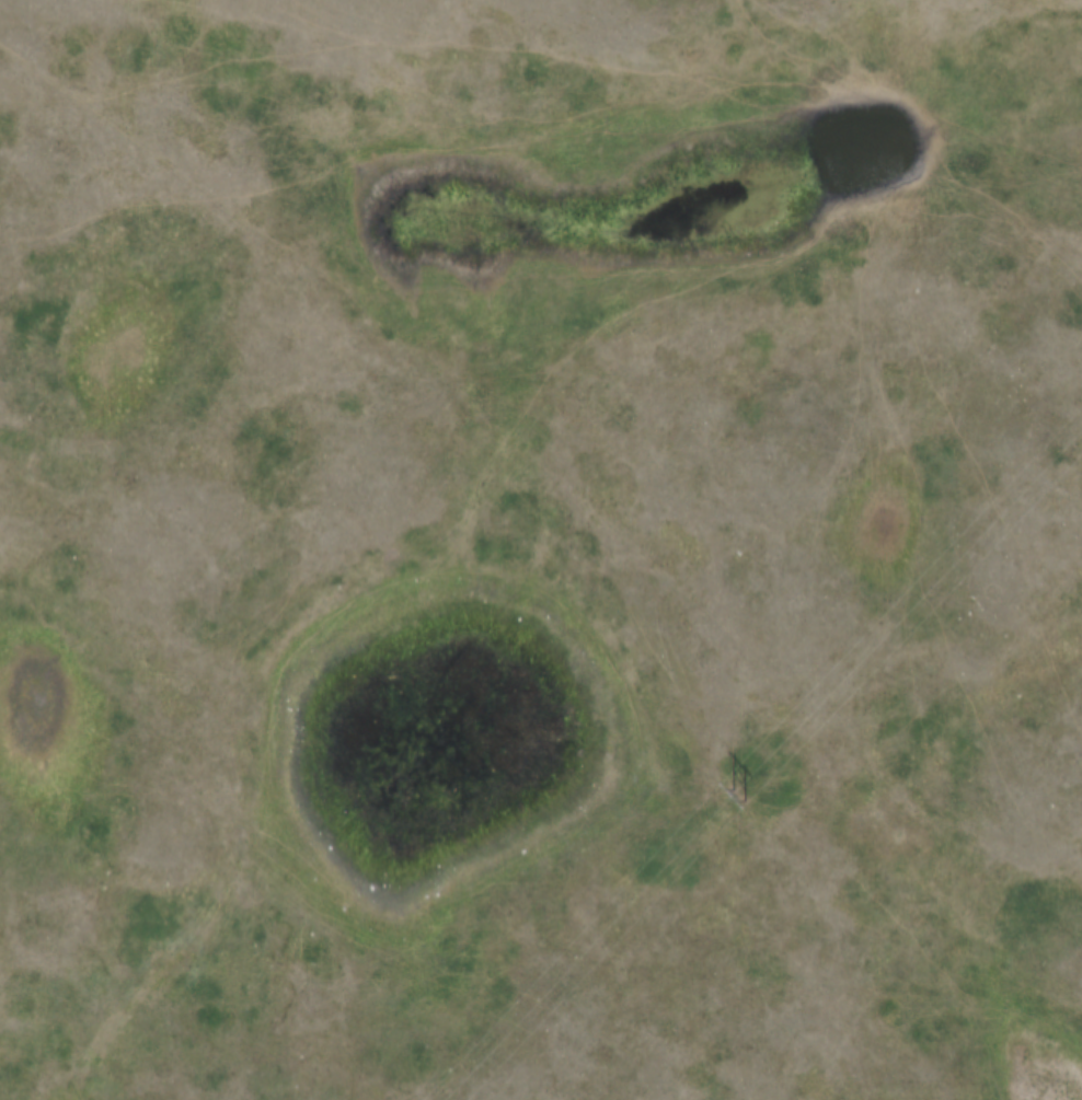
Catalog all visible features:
power tower: (739, 794)

